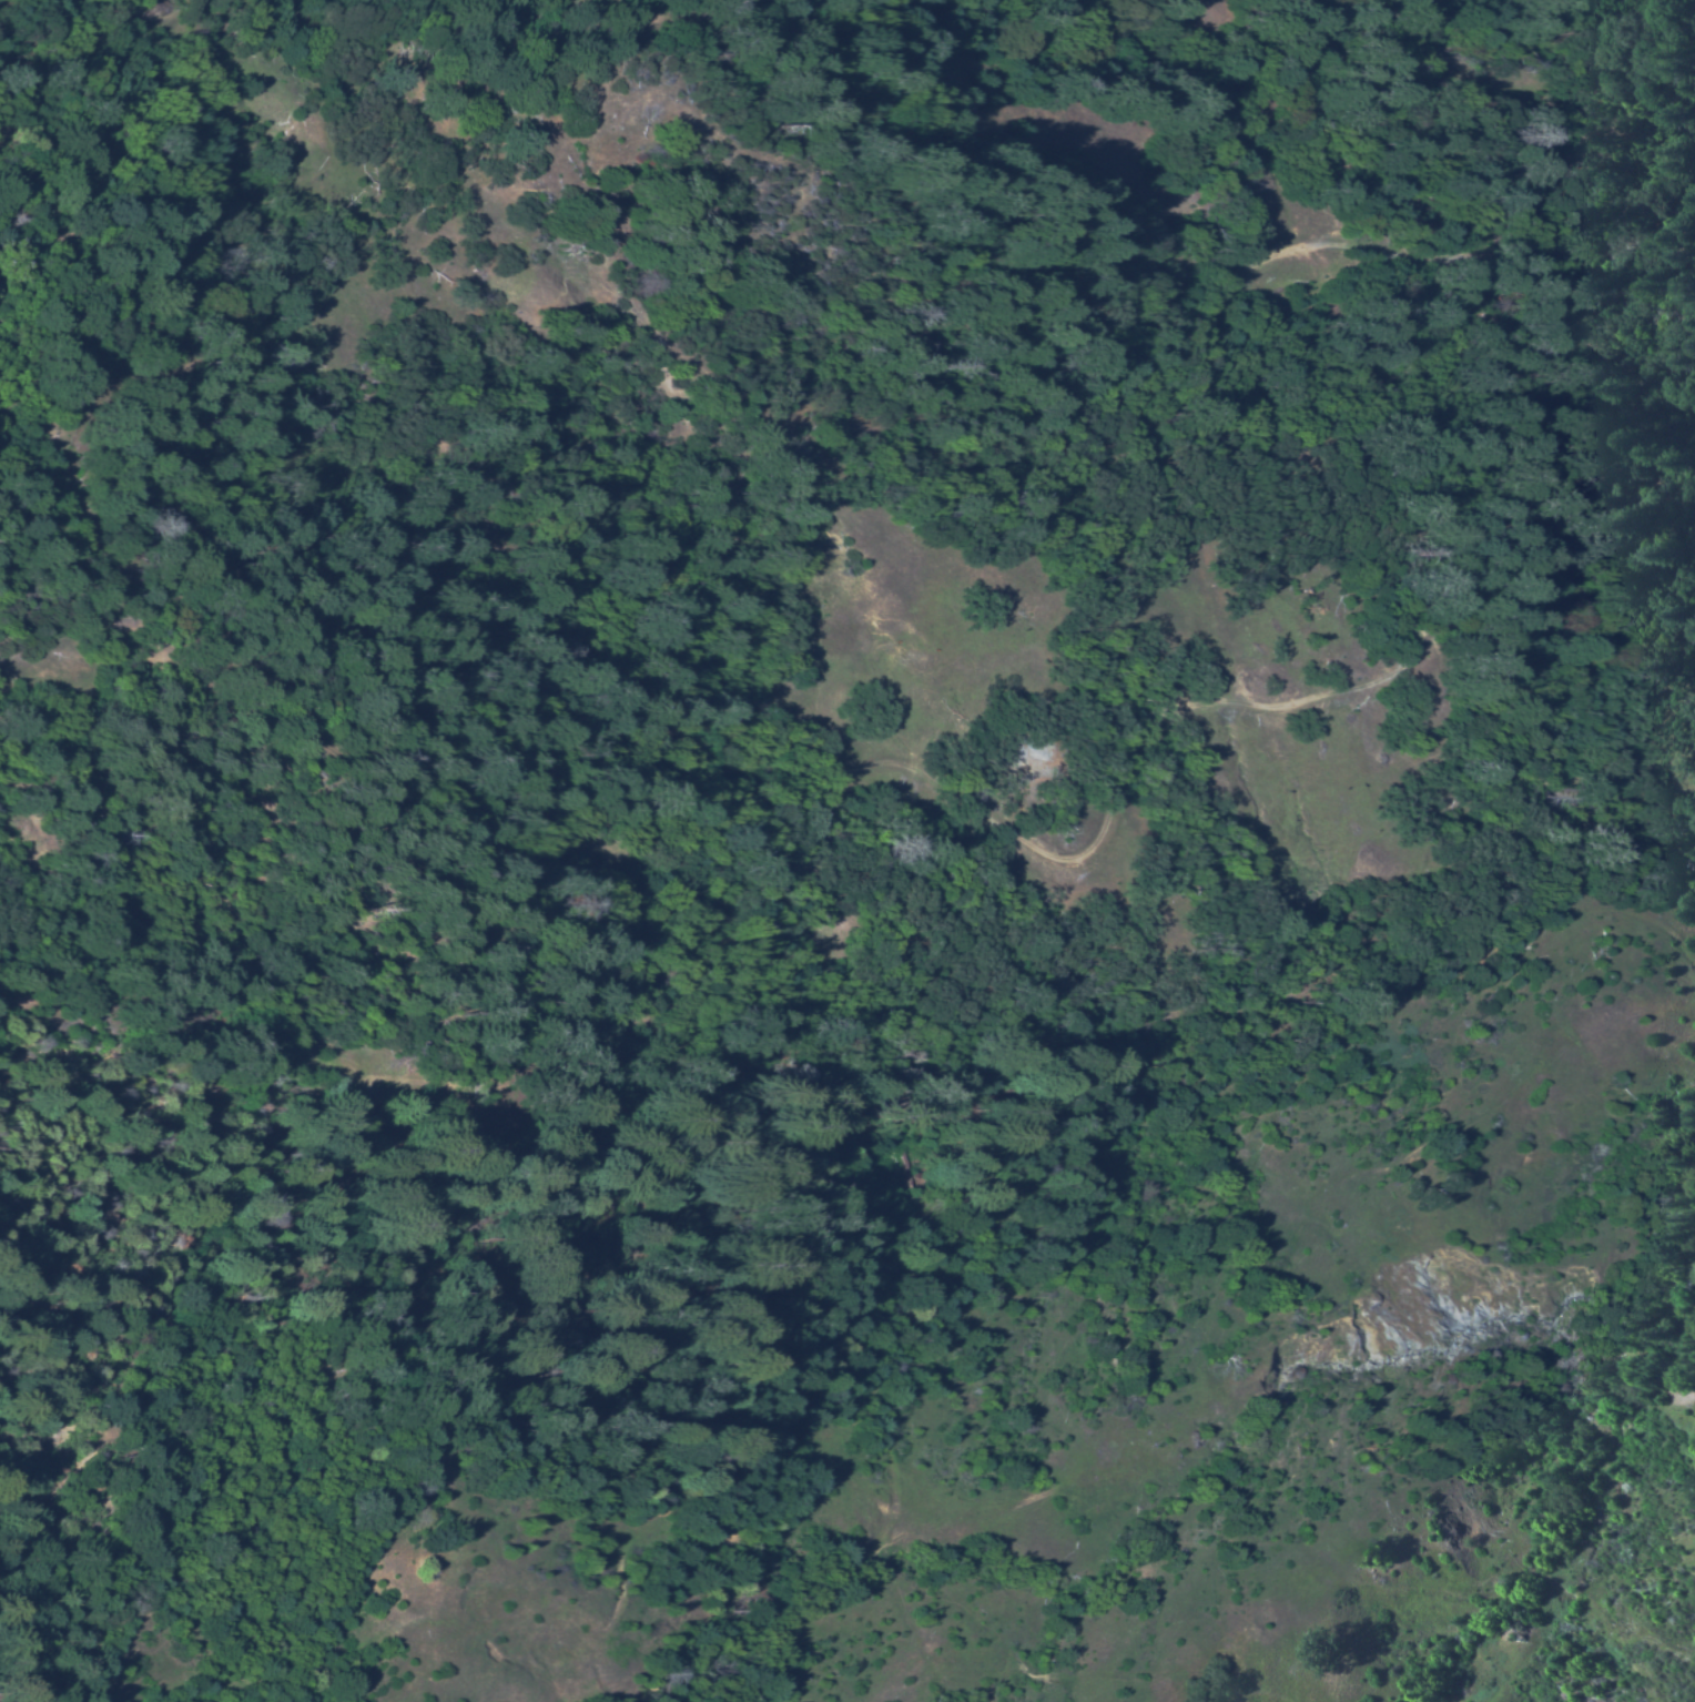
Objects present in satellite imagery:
road: (1442, 675)

